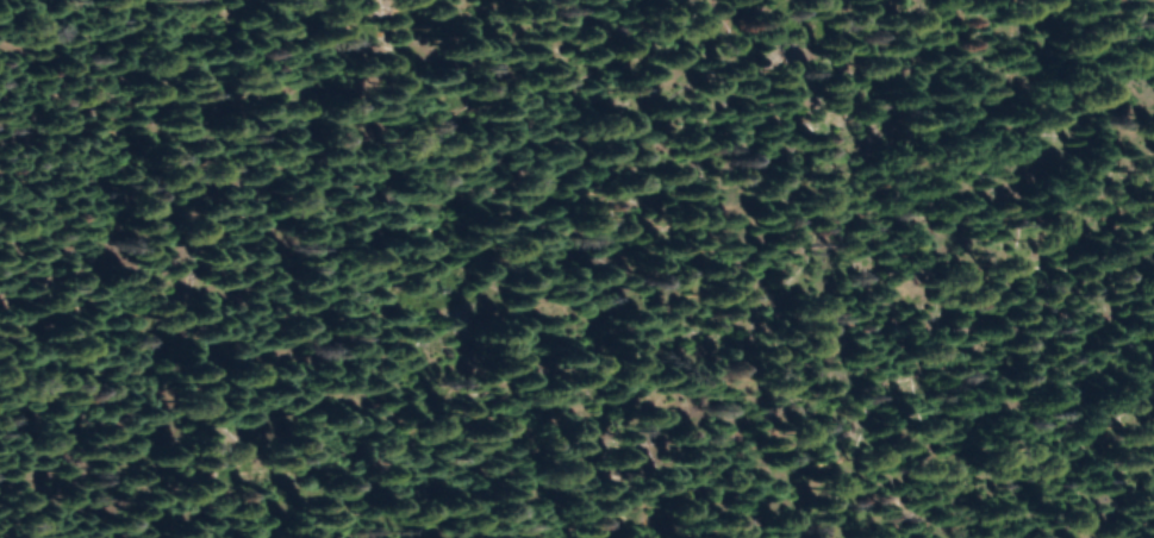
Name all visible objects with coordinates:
road: (1058, 451)

